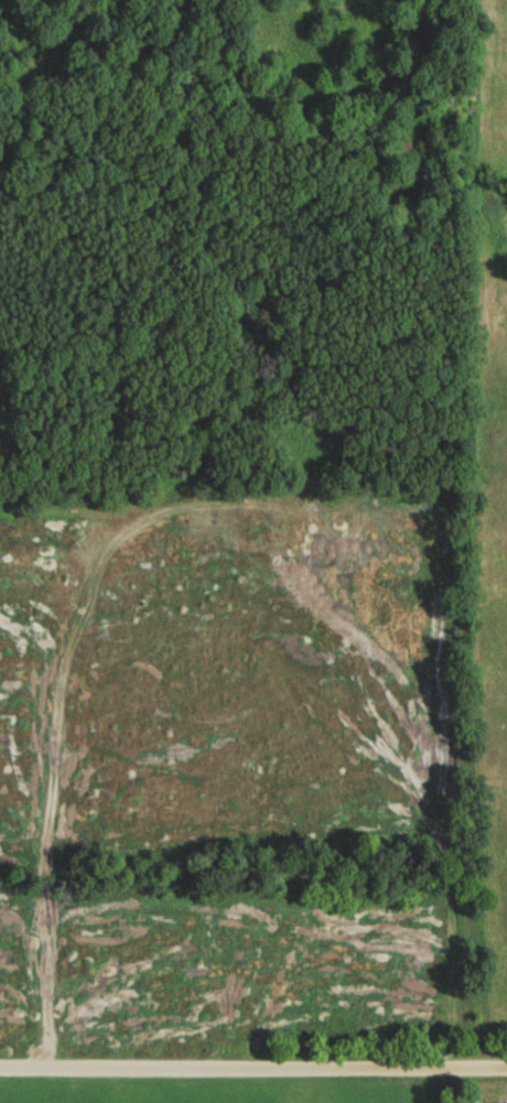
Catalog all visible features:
road: (253, 1064)

